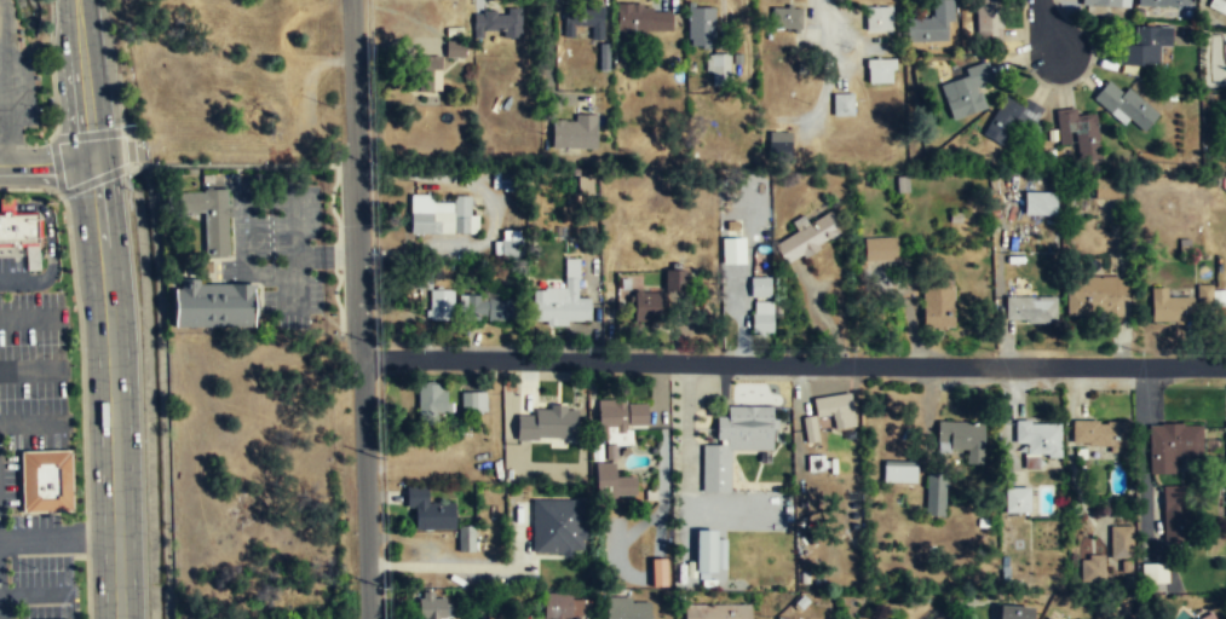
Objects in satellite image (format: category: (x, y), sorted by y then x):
building: (1222, 1)
building: (1100, 2)
building: (1161, 2)
building: (785, 18)
building: (644, 19)
building: (877, 19)
building: (988, 21)
building: (497, 22)
building: (582, 24)
building: (932, 24)
building: (701, 27)
road: (1047, 28)
building: (1146, 45)
road: (549, 51)
building: (434, 62)
road: (835, 65)
road: (51, 69)
building: (719, 69)
building: (880, 70)
road: (2, 81)
parking lot: (16, 89)
building: (967, 91)
building: (842, 103)
building: (1126, 104)
road: (1, 115)
building: (1011, 118)
building: (1078, 132)
road: (90, 134)
building: (572, 134)
building: (779, 143)
road: (129, 147)
road: (46, 161)
traffic signals: (93, 161)
road: (238, 163)
road: (133, 167)
road: (96, 178)
building: (505, 180)
road: (257, 186)
road: (30, 187)
building: (1107, 190)
building: (1038, 202)
building: (441, 215)
building: (208, 216)
street lamp: (63, 225)
building: (17, 226)
building: (808, 238)
building: (508, 244)
road: (50, 245)
building: (732, 250)
building: (880, 250)
building: (674, 279)
building: (760, 288)
road: (294, 291)
building: (1094, 295)
building: (1210, 296)
building: (563, 301)
building: (937, 301)
building: (212, 305)
building: (439, 305)
building: (649, 306)
building: (1168, 307)
road: (108, 308)
building: (488, 308)
road: (357, 309)
building: (1030, 309)
road: (30, 318)
building: (761, 318)
street lamp: (373, 341)
street lamp: (420, 345)
street lamp: (76, 348)
street lamp: (1138, 351)
road: (80, 353)
road: (792, 363)
road: (31, 370)
building: (431, 399)
building: (473, 400)
building: (836, 415)
building: (621, 416)
building: (548, 423)
road: (33, 424)
building: (810, 428)
building: (1099, 435)
building: (961, 440)
building: (1036, 440)
building: (733, 444)
building: (1172, 446)
building: (898, 473)
road: (18, 474)
building: (46, 479)
building: (611, 482)
building: (1015, 501)
building: (934, 503)
street lamp: (81, 510)
building: (428, 513)
building: (1175, 515)
building: (558, 526)
road: (86, 536)
road: (58, 537)
building: (468, 540)
building: (1119, 544)
building: (706, 553)
road: (77, 556)
road: (447, 567)
building: (1090, 569)
building: (658, 571)
building: (1153, 573)
road: (70, 584)
street lamp: (379, 584)
road: (86, 588)
road: (31, 595)
building: (430, 606)
building: (563, 606)
building: (626, 609)
building: (716, 612)
building: (1014, 612)
road: (75, 613)
road: (1, 614)
building: (939, 617)
building: (1208, 617)
building: (773, 618)
building: (1047, 618)

